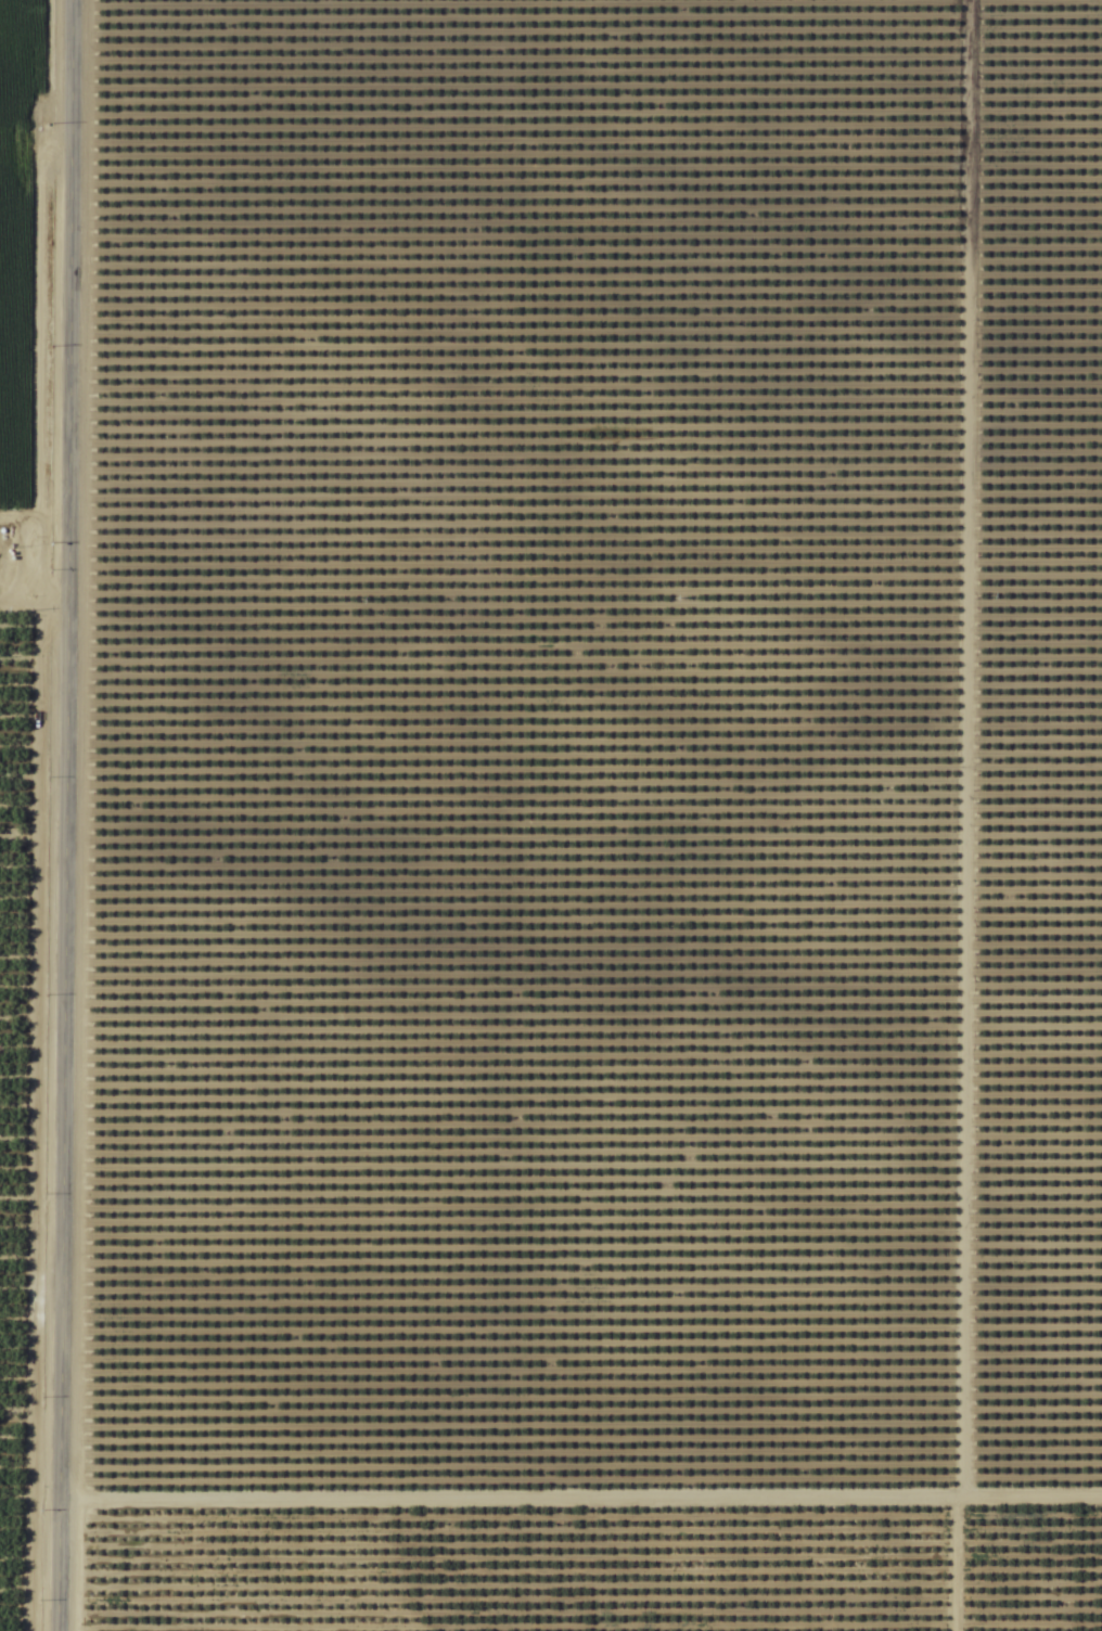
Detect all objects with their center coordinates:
road: (33, 599)
road: (64, 815)

